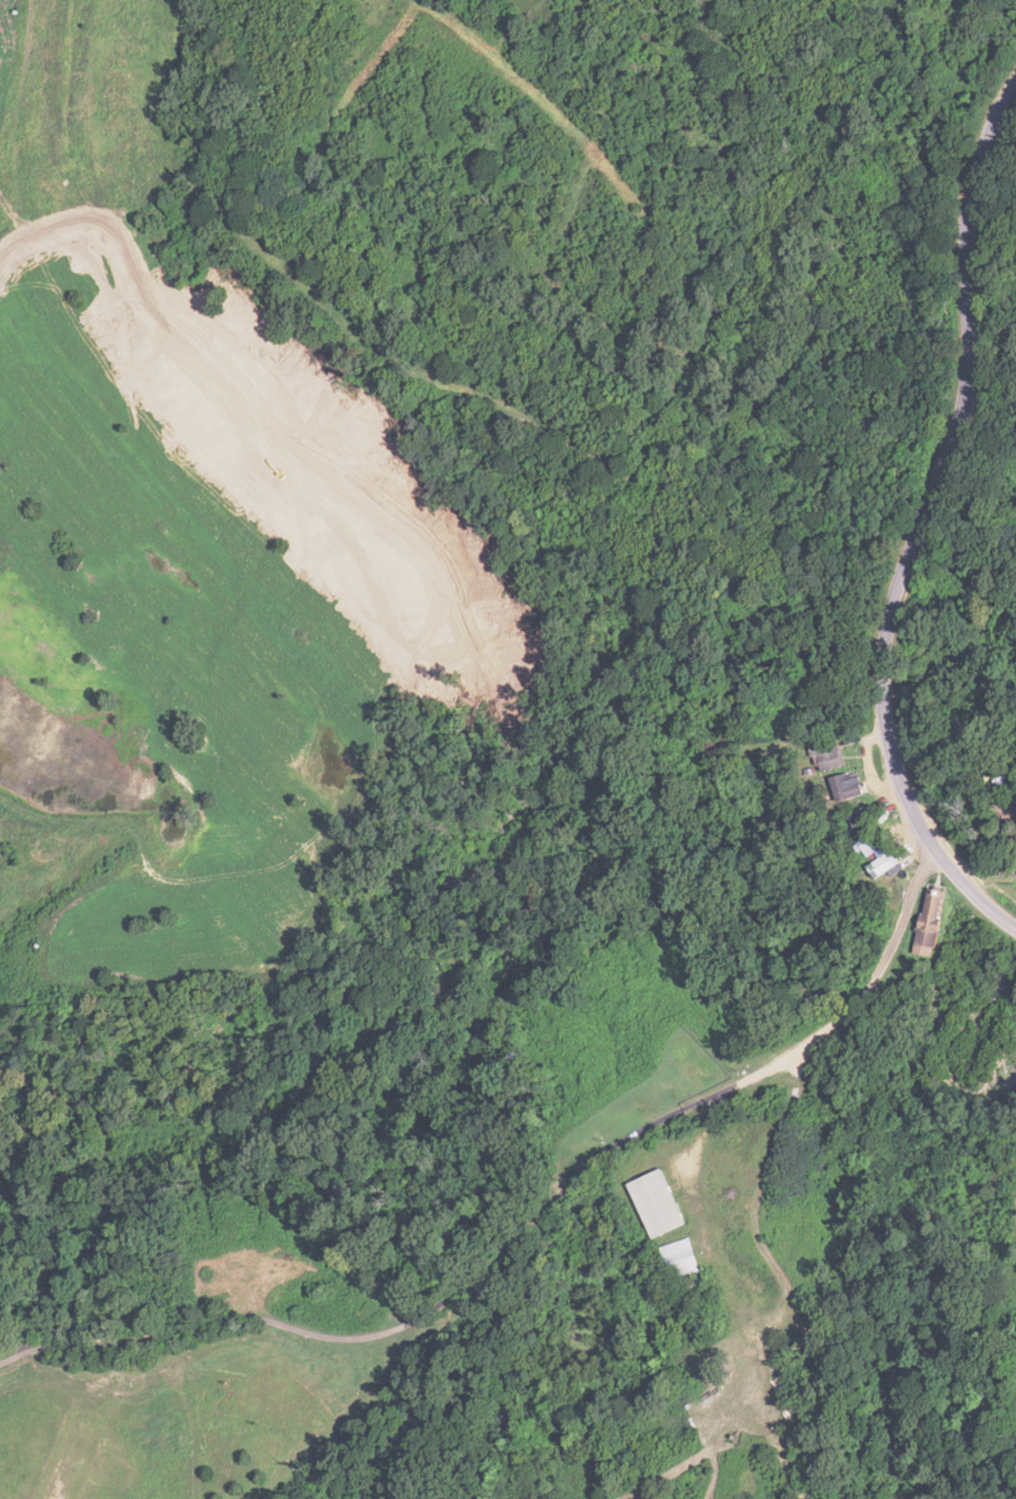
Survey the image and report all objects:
road: (937, 472)
building: (830, 757)
building: (848, 786)
building: (864, 820)
building: (872, 844)
building: (886, 866)
road: (975, 894)
building: (934, 917)
building: (997, 990)
building: (658, 1204)
road: (525, 1229)
road: (713, 1245)
building: (683, 1259)
building: (796, 1348)

